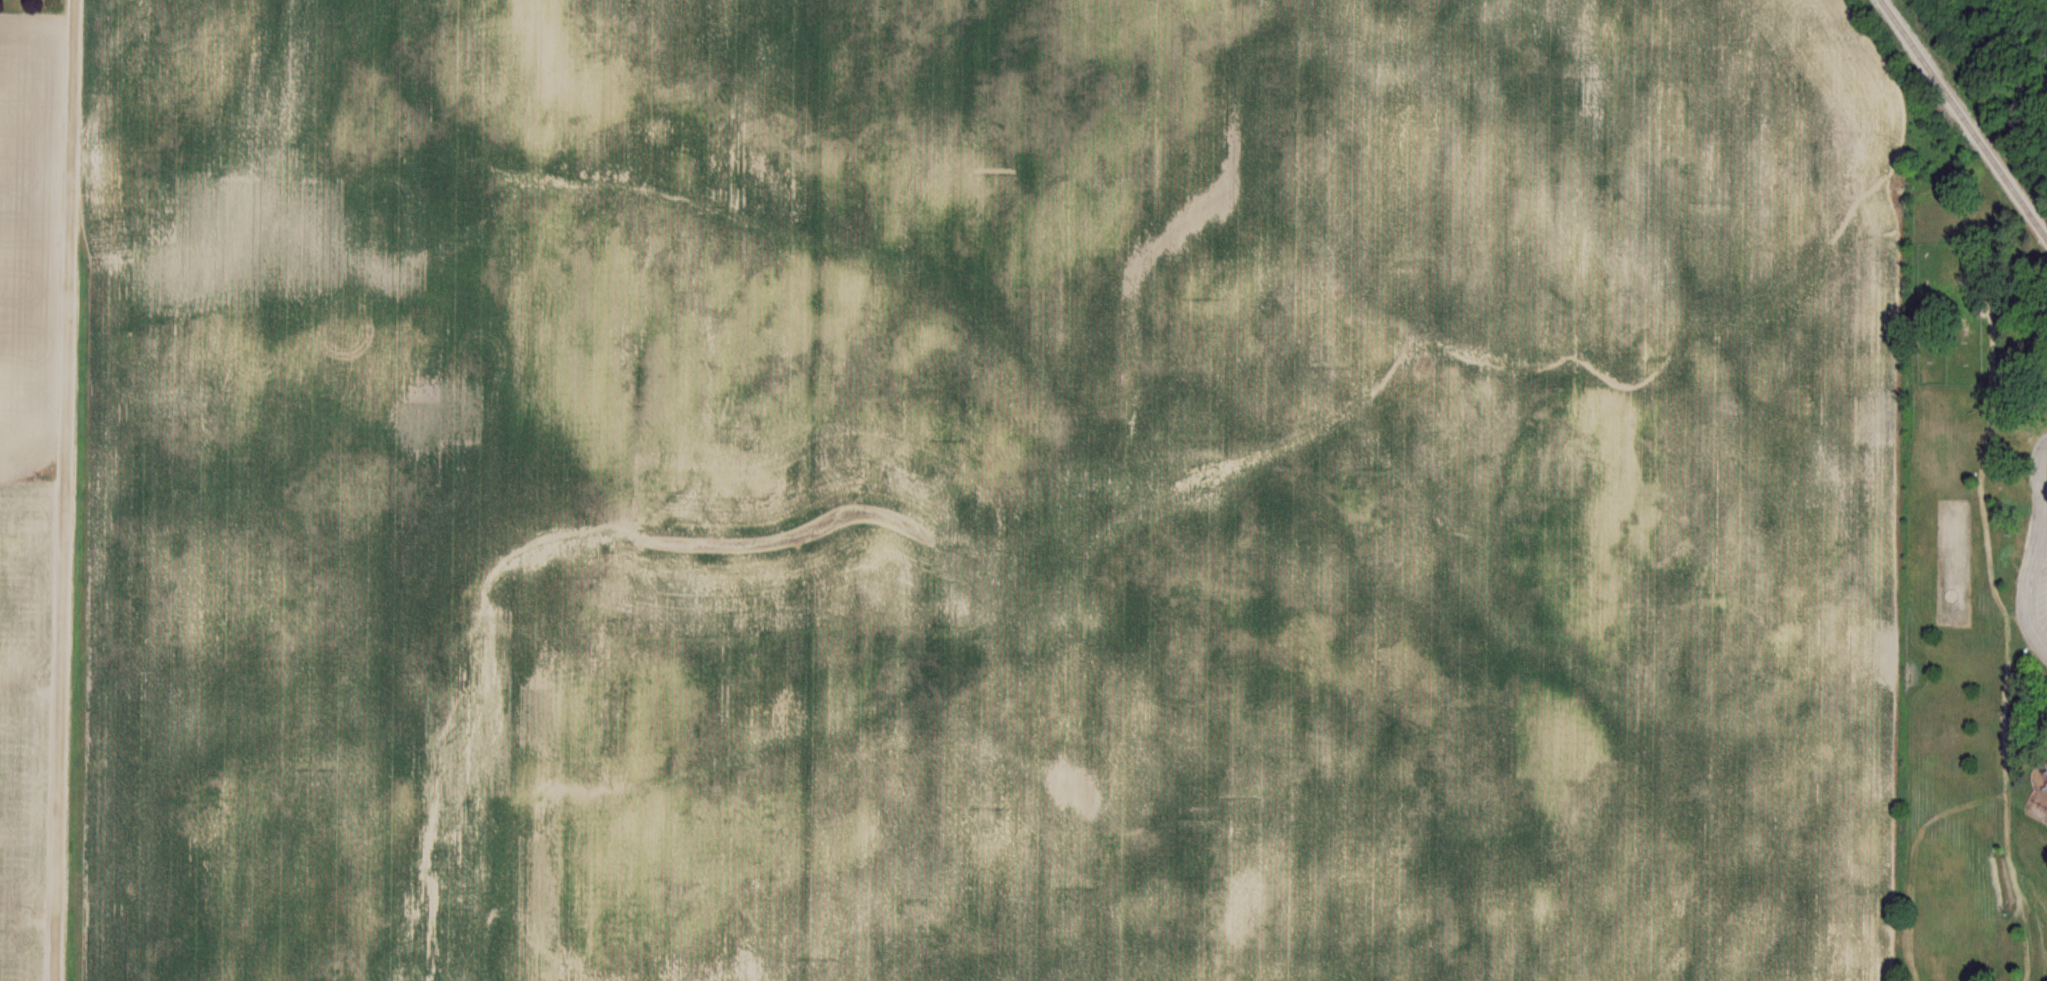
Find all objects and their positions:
building: (21, 4)
railway: (1964, 118)
road: (71, 490)
road: (2034, 553)
park: (1974, 590)
parking lot: (2043, 597)

